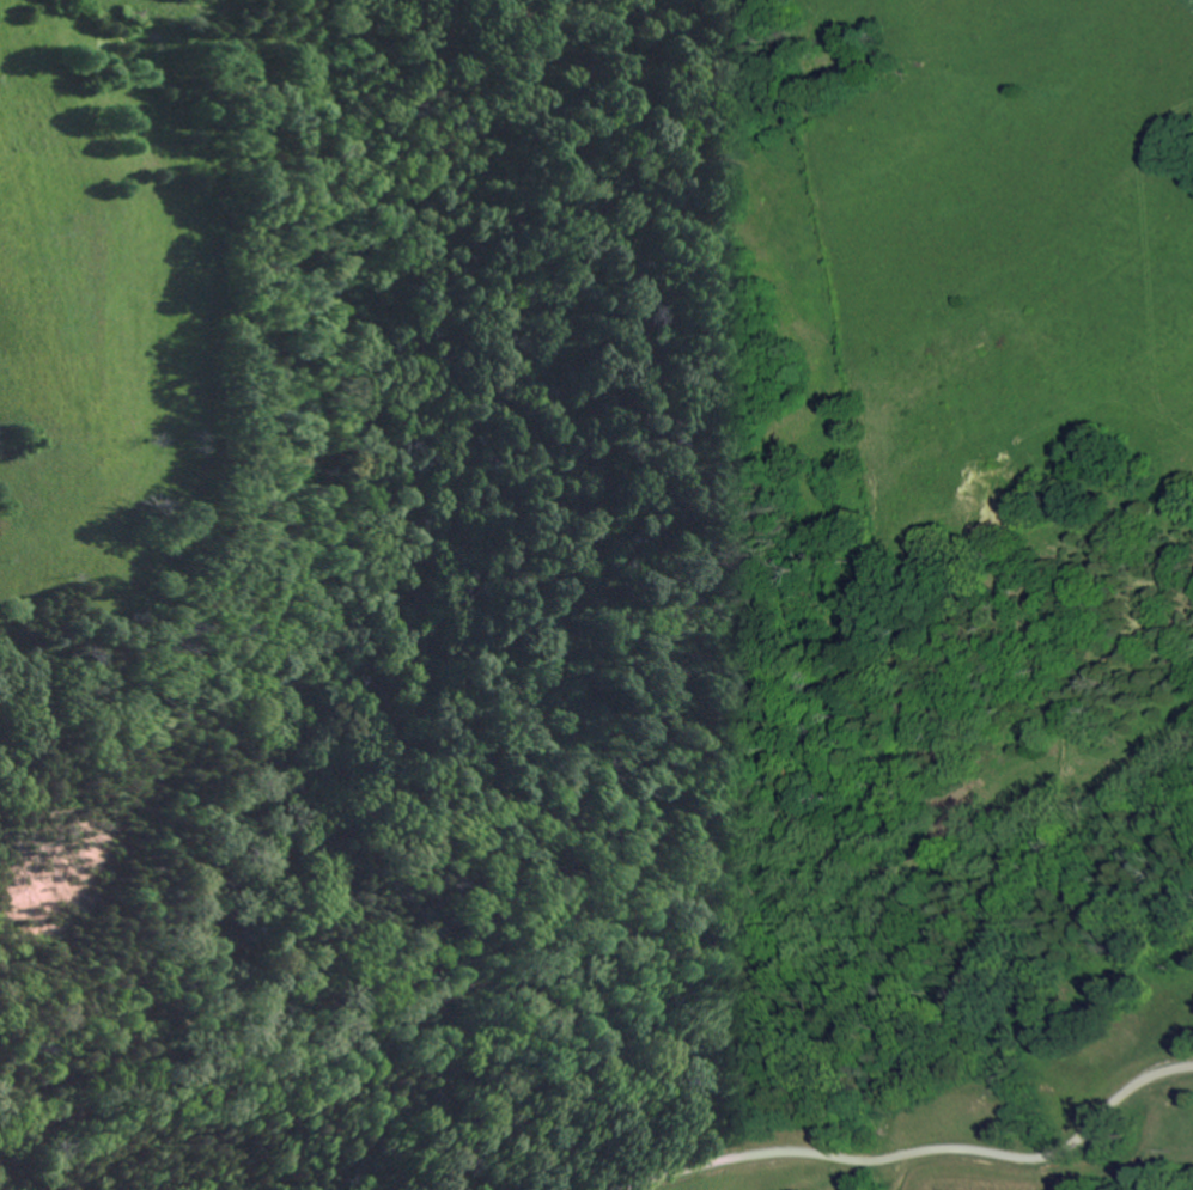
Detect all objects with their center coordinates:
road: (707, 944)

